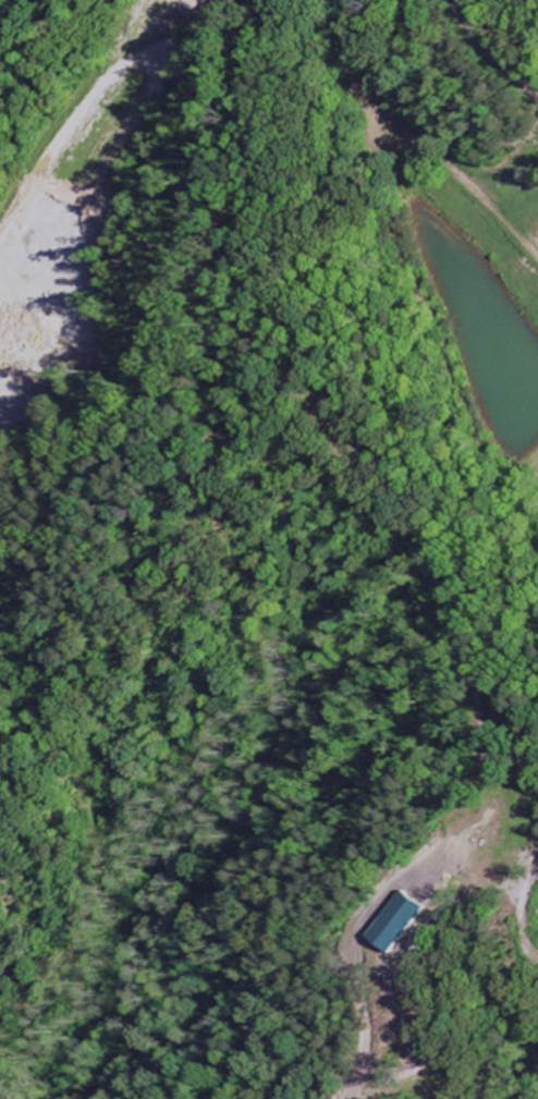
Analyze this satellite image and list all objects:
road: (457, 182)
building: (418, 923)

